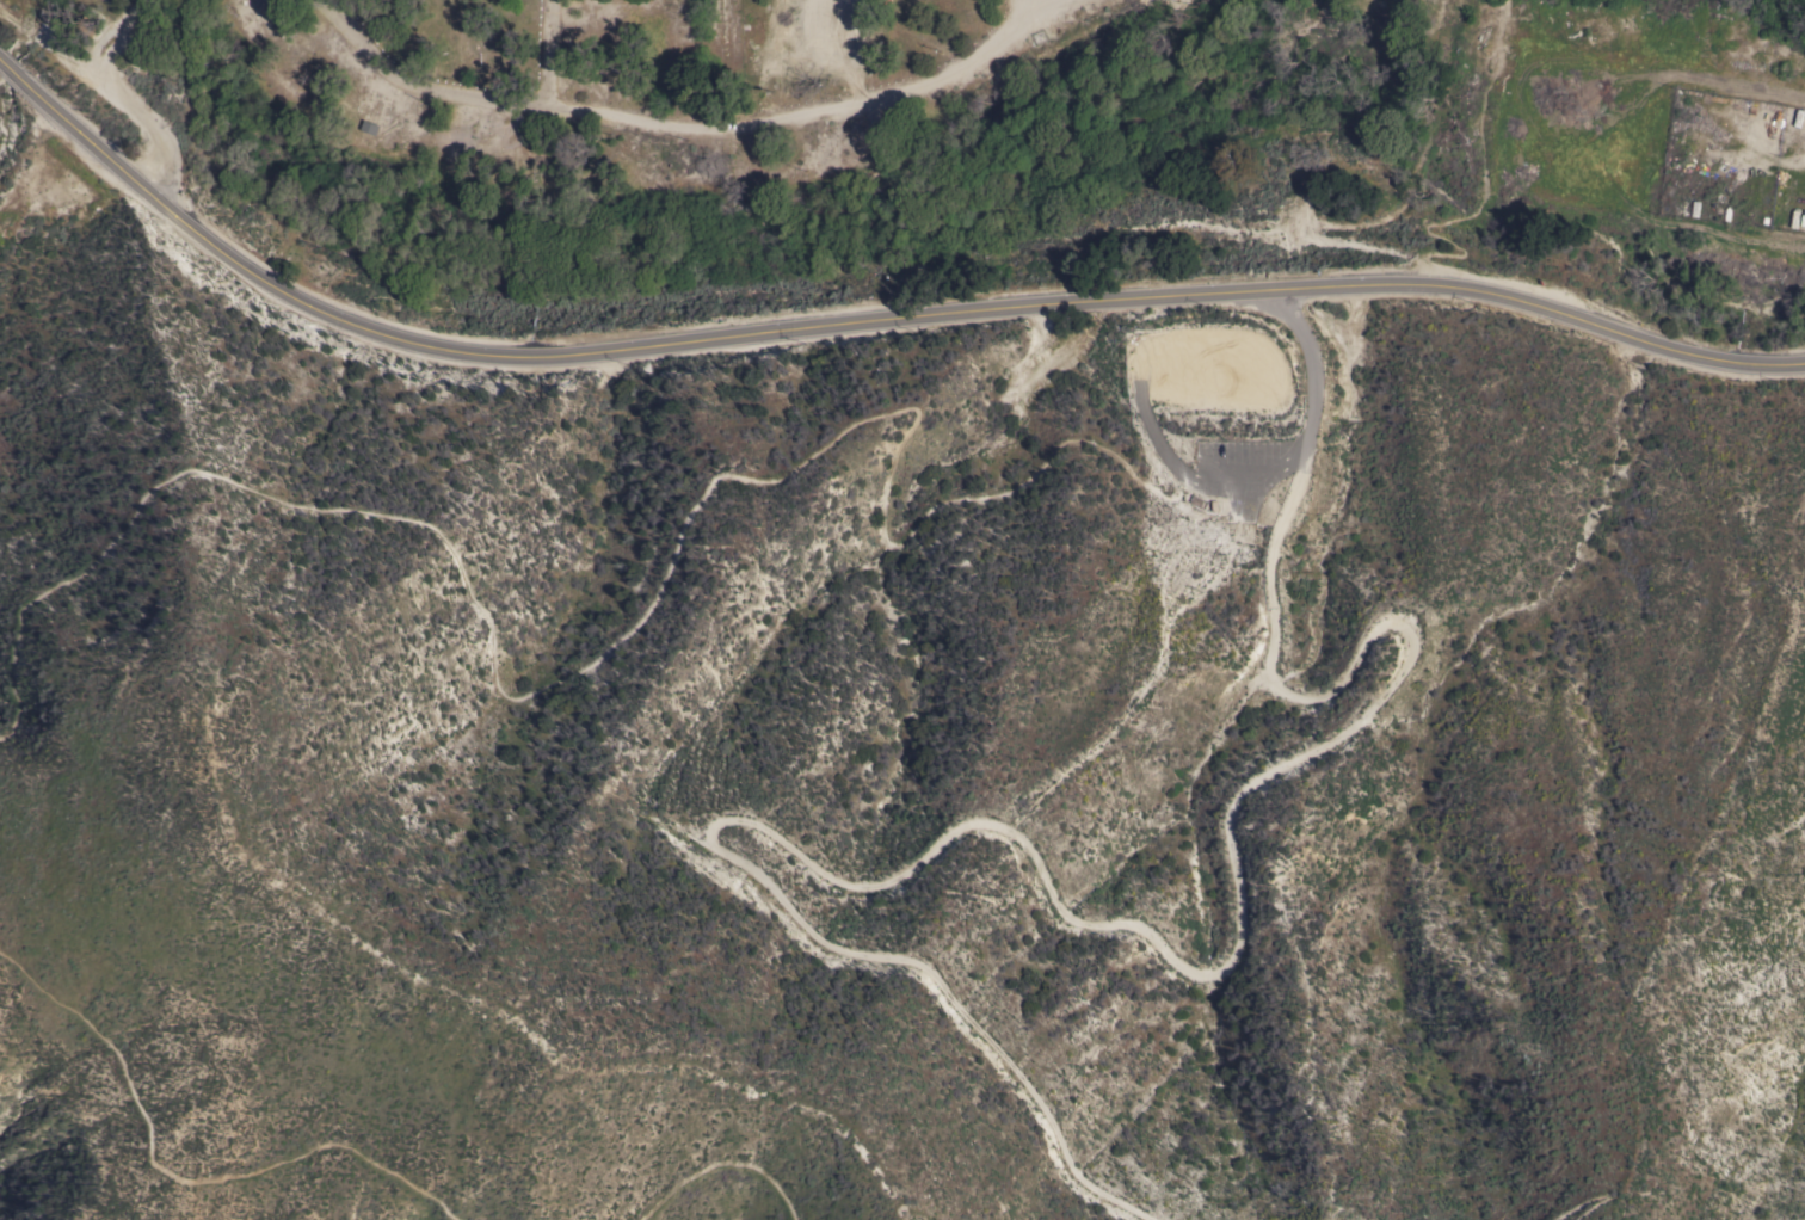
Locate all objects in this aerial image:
building: (880, 0)
road: (141, 5)
road: (1034, 10)
road: (105, 36)
road: (549, 57)
road: (106, 91)
road: (685, 129)
road: (860, 322)
road: (899, 409)
parking lot: (1215, 415)
road: (1132, 918)
road: (720, 1163)
road: (184, 1178)
road: (1591, 1196)

